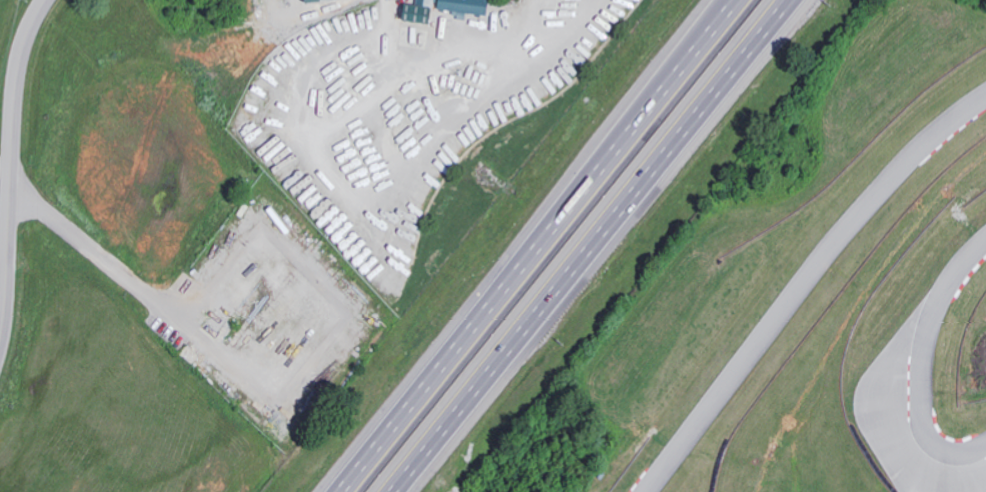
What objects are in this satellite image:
building: (307, 0)
building: (461, 5)
building: (415, 11)
road: (385, 22)
road: (450, 47)
road: (382, 66)
road: (370, 94)
road: (293, 100)
road: (466, 103)
road: (10, 164)
road: (5, 181)
road: (365, 219)
road: (525, 245)
road: (605, 246)
road: (3, 271)
raceway: (801, 282)
raceway: (911, 358)
road: (194, 376)
road: (278, 400)

